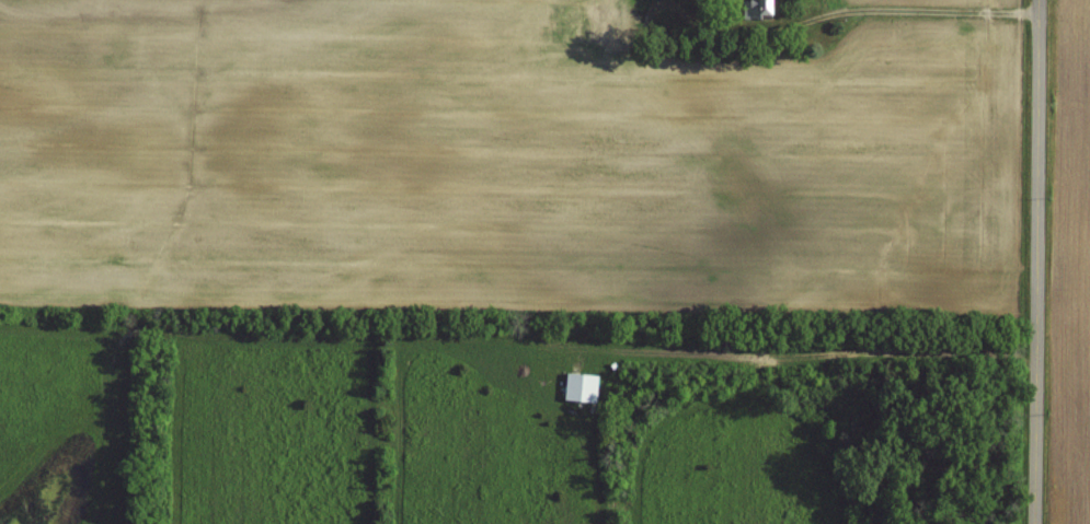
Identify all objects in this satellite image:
road: (1033, 261)
road: (827, 352)

